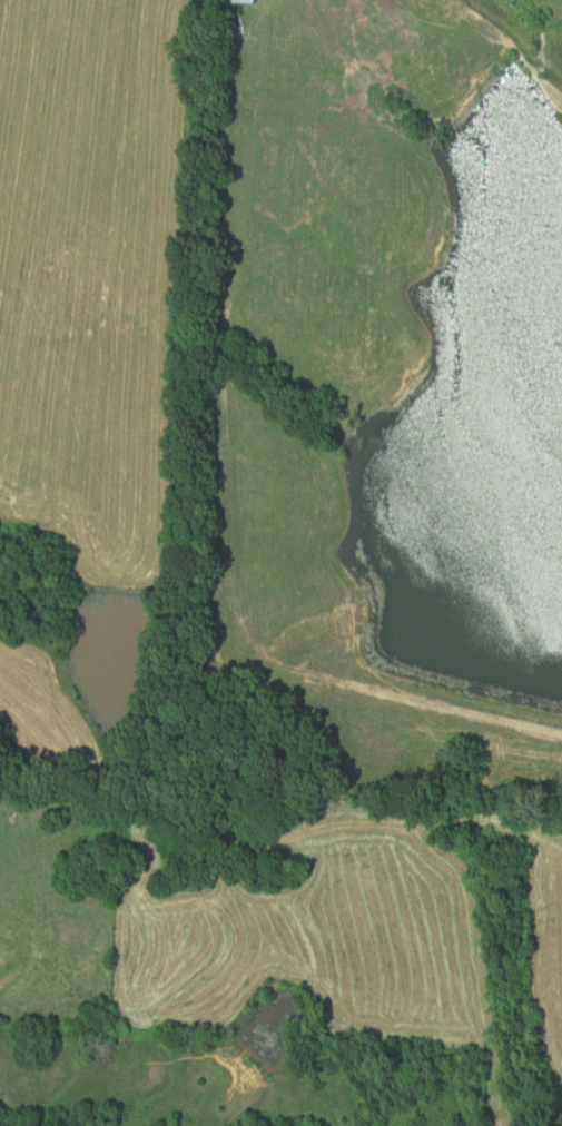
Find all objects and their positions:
building: (249, 2)
dam: (466, 683)

